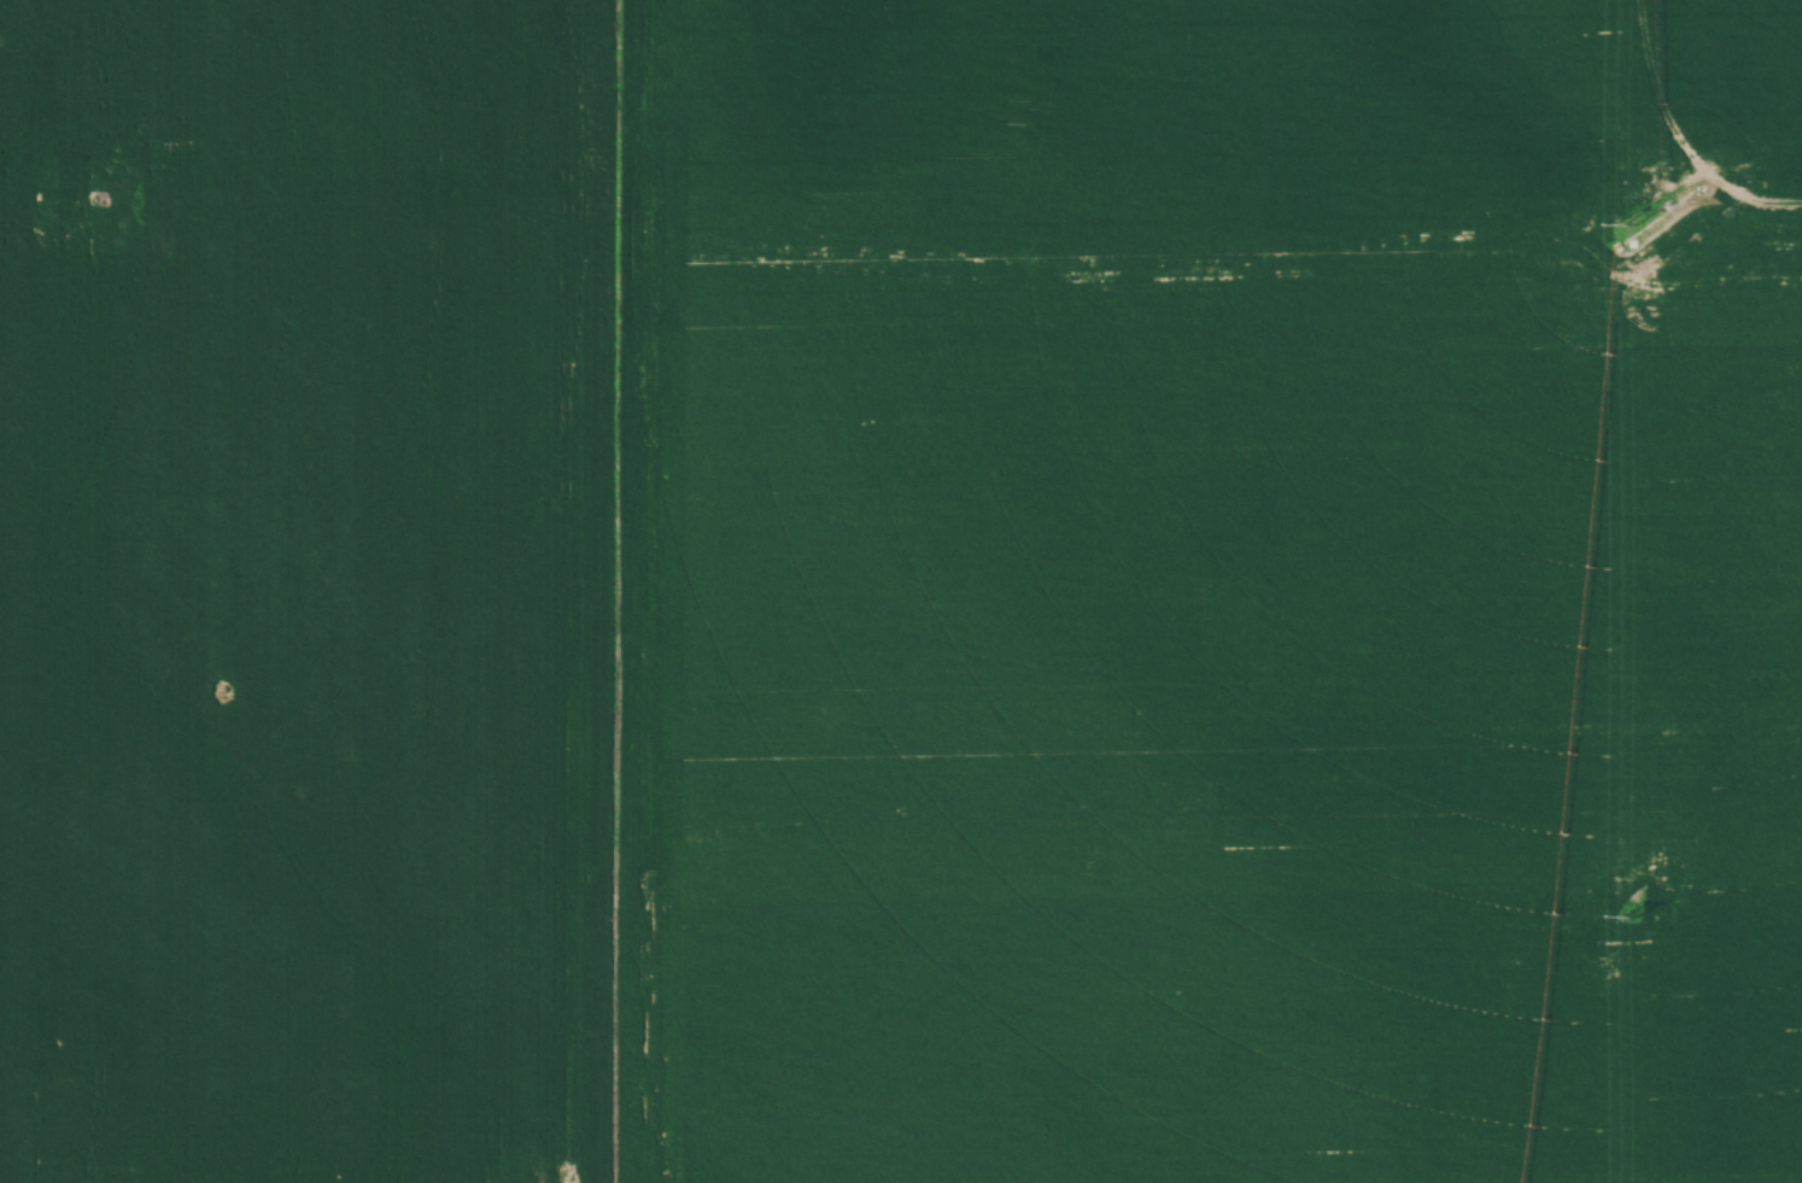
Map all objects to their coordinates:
power tower: (1630, 227)

